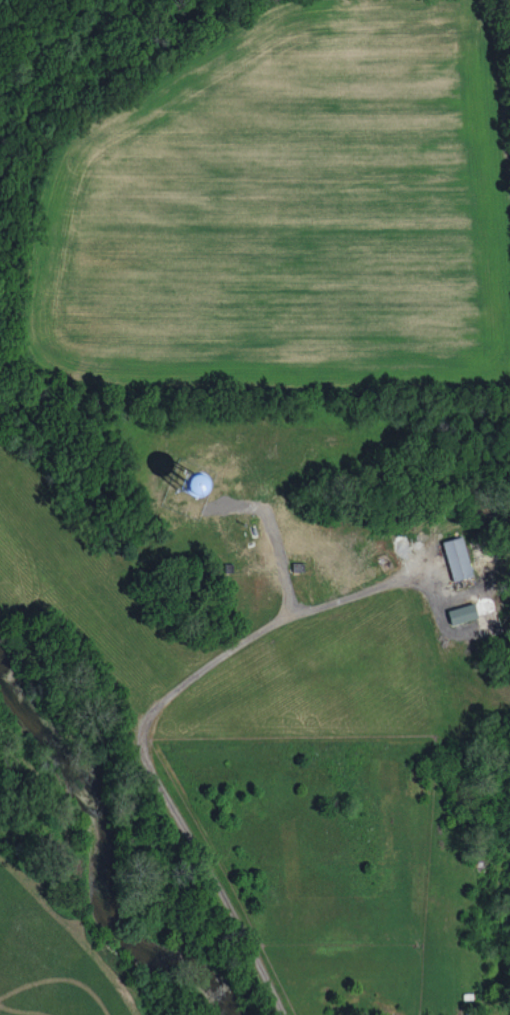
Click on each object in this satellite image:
building: (457, 558)
building: (462, 613)
river: (92, 860)

